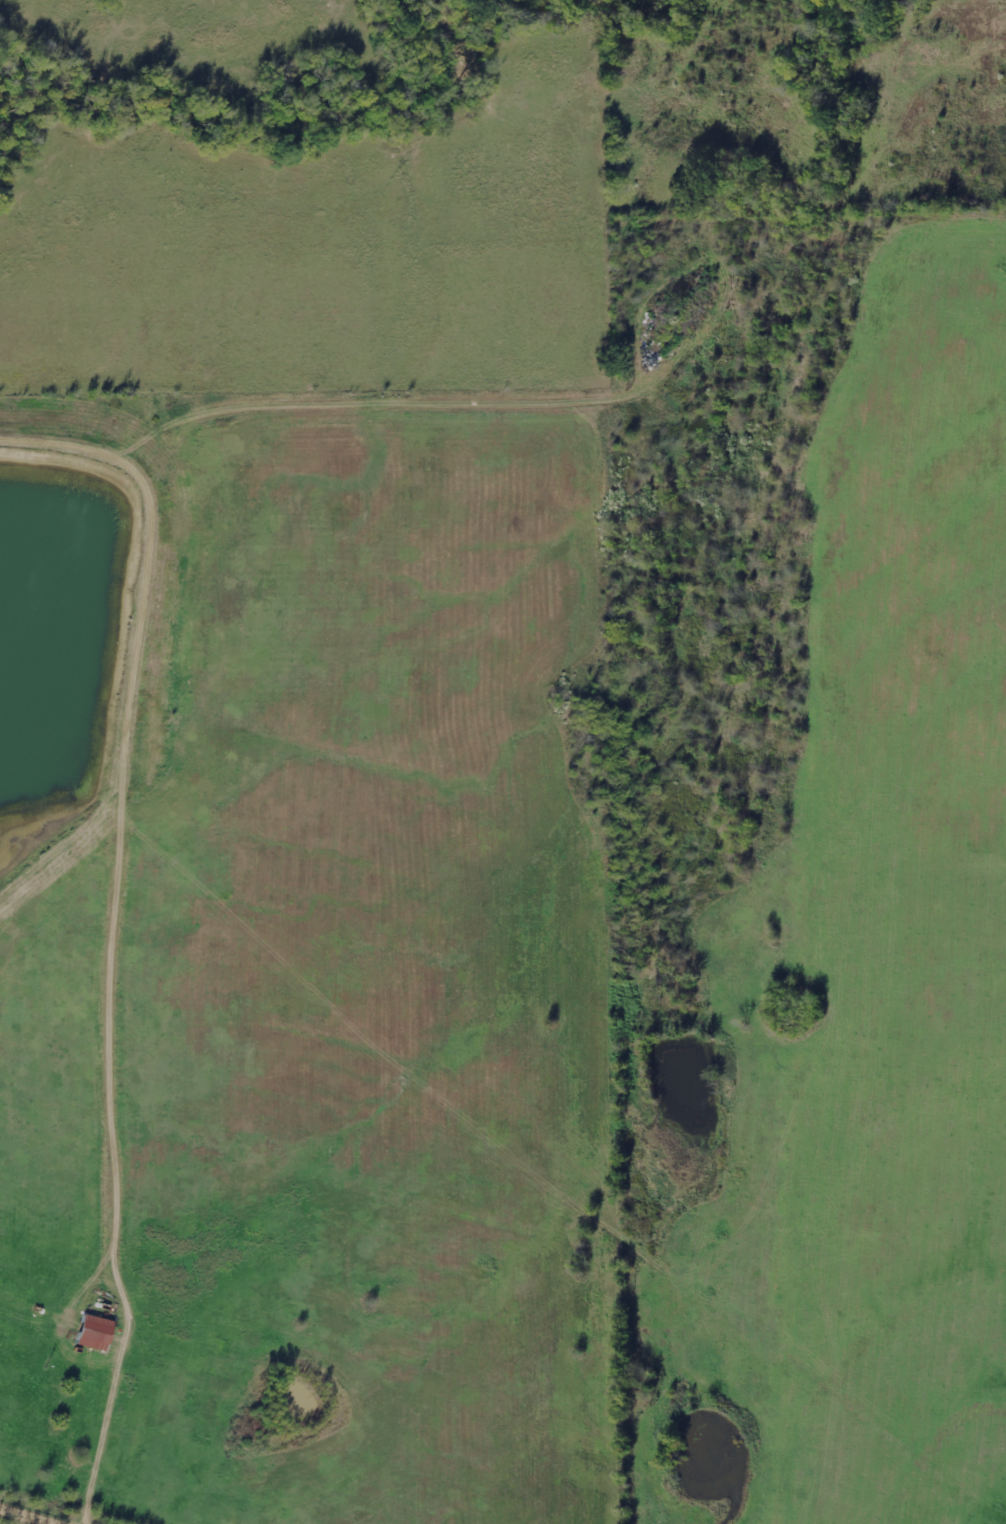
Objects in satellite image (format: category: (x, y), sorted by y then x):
road: (25, 1517)

